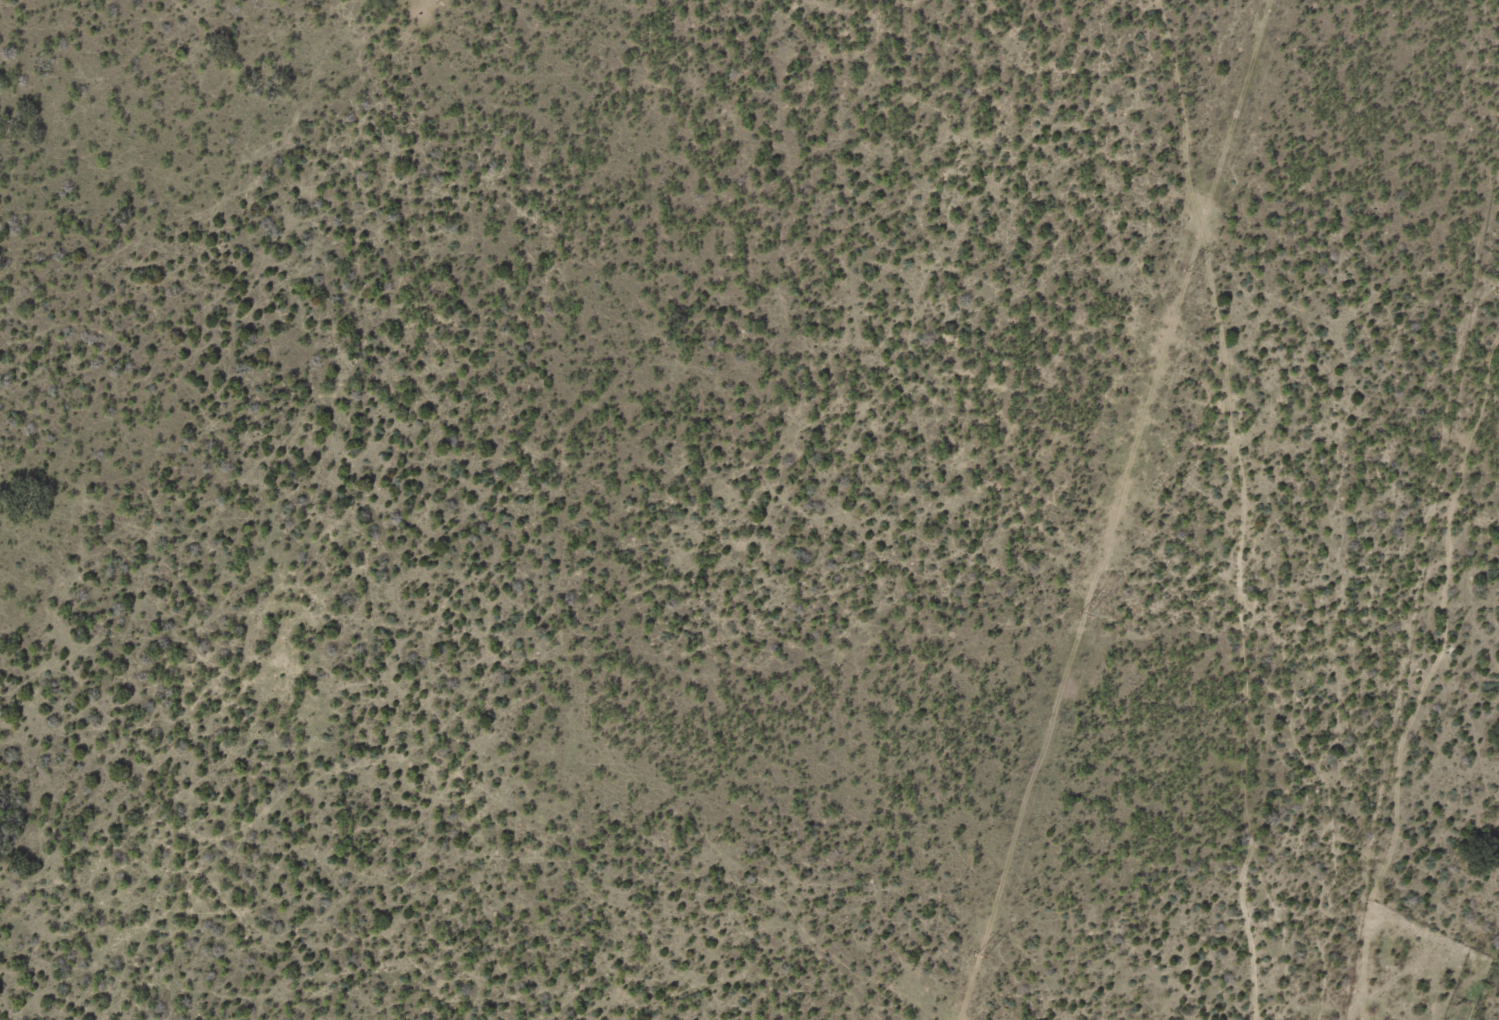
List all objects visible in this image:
power tower: (1185, 269)
road: (1247, 499)
power tower: (1081, 612)
power tower: (978, 954)

